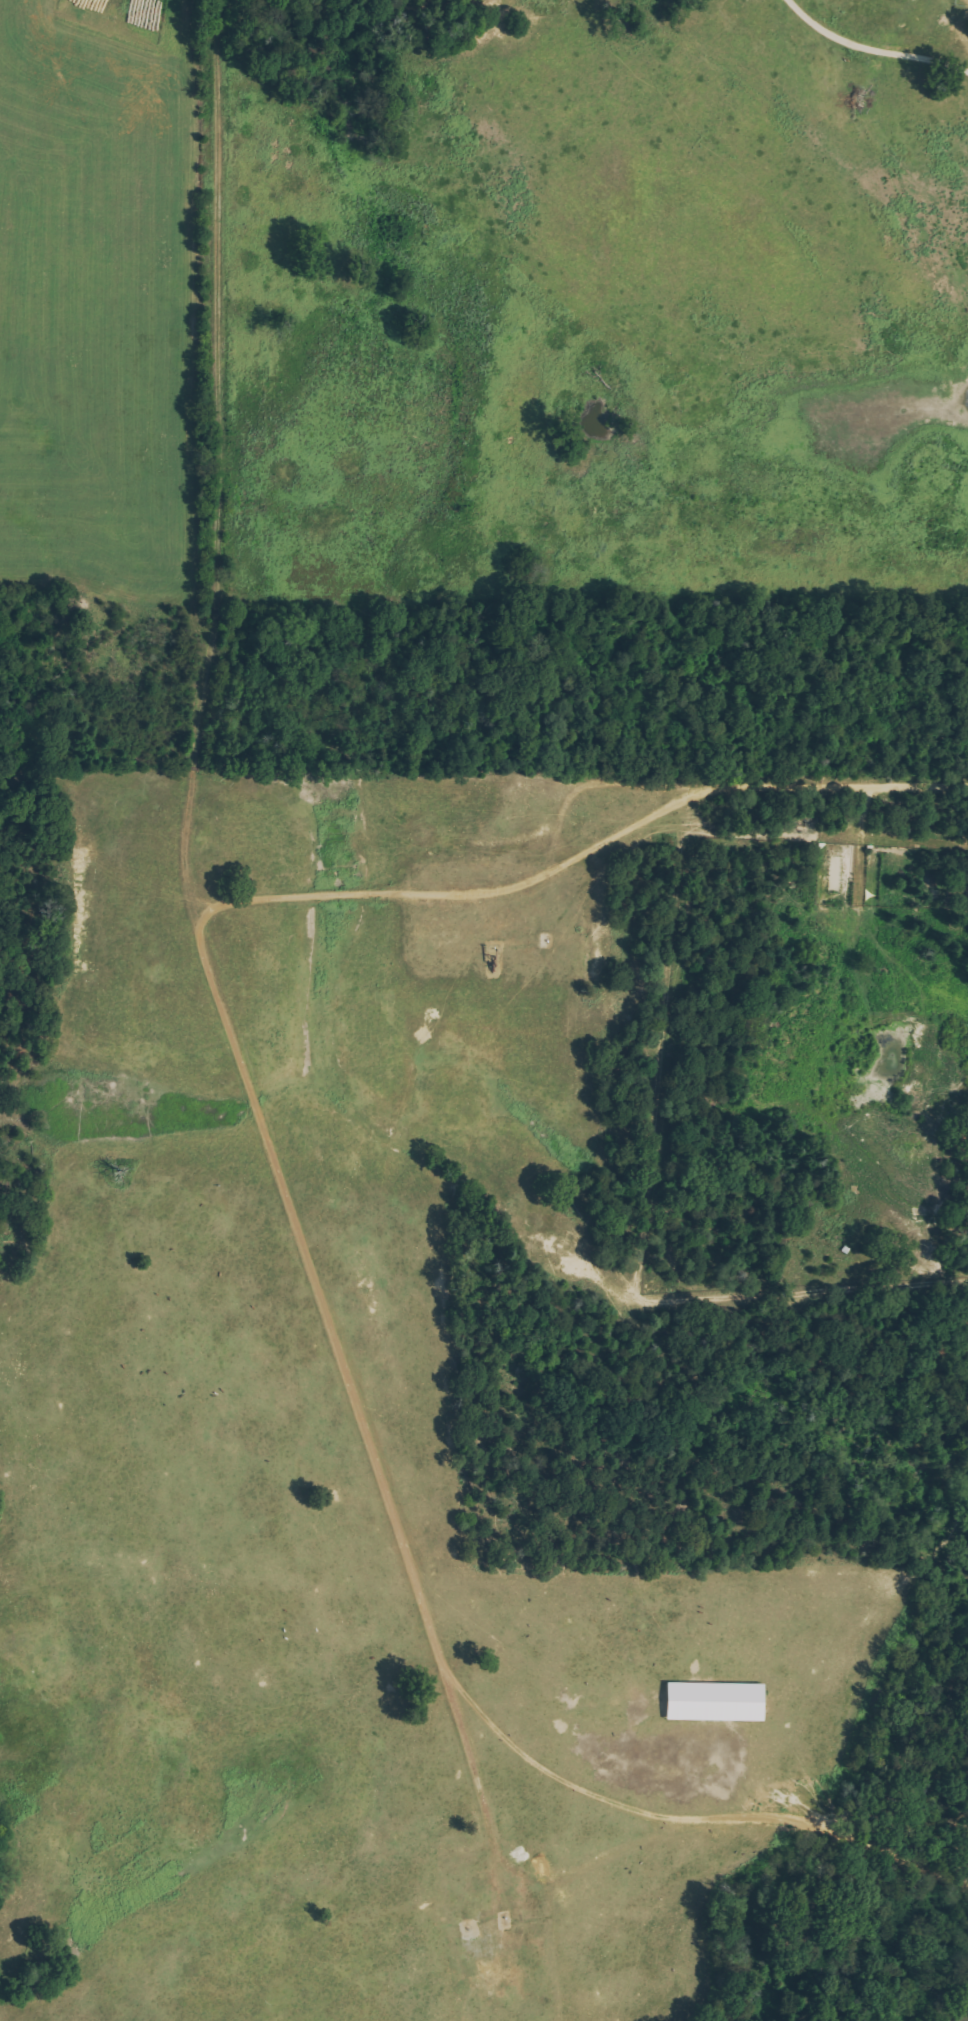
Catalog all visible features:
building: (709, 1703)

